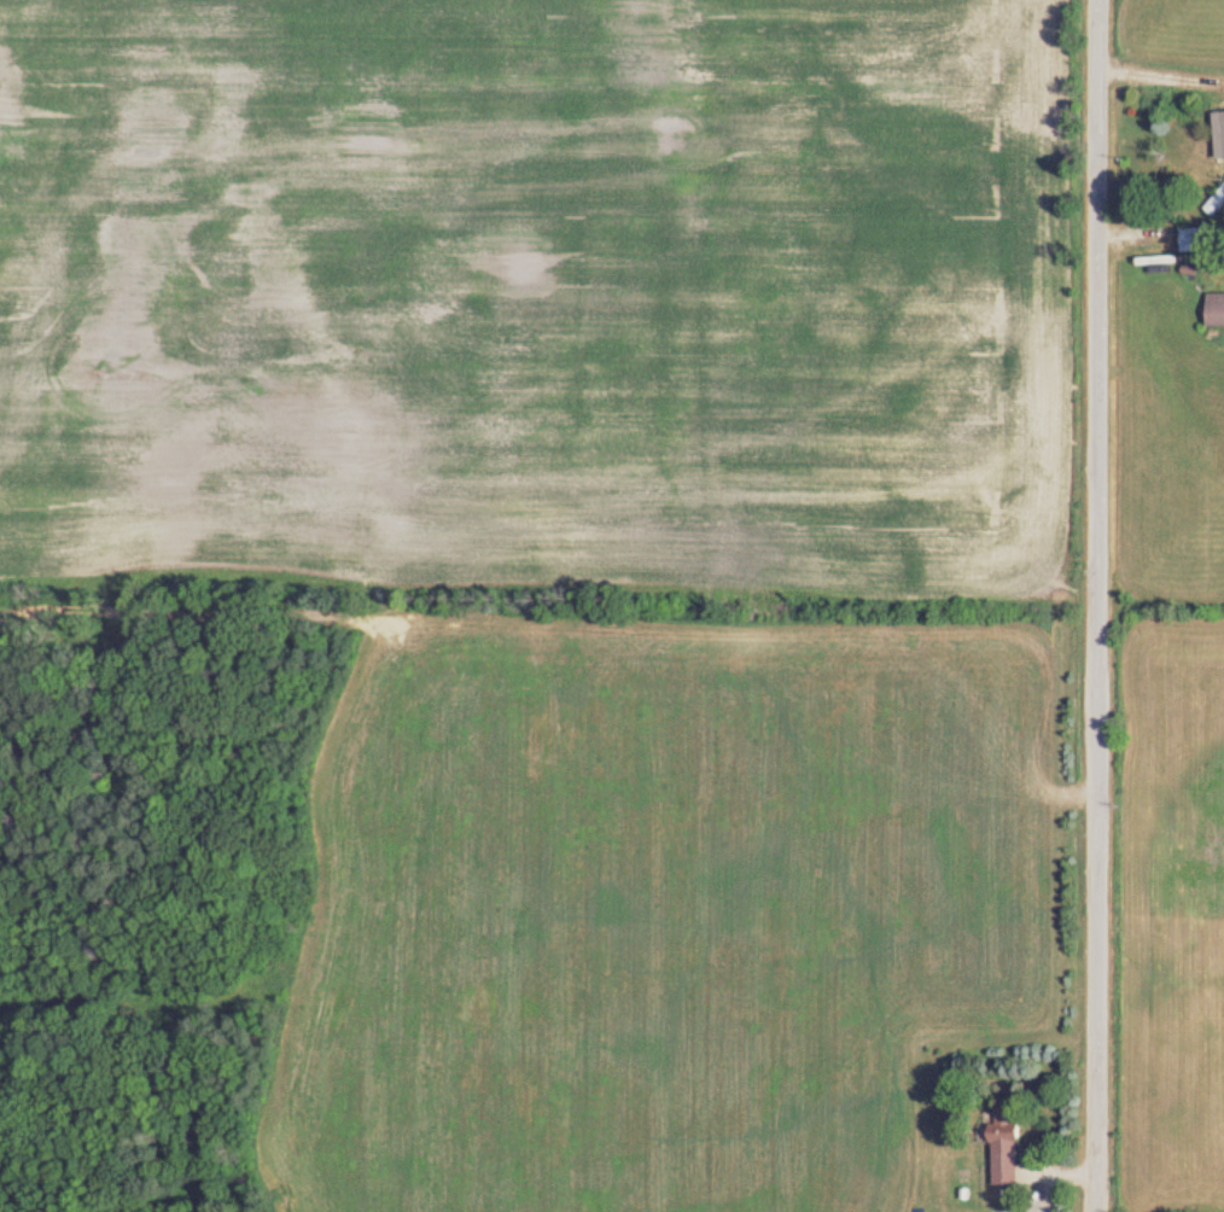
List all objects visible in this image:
building: (1218, 209)
building: (1200, 243)
building: (1218, 313)
road: (1085, 605)
building: (1012, 1148)
road: (1049, 1184)

